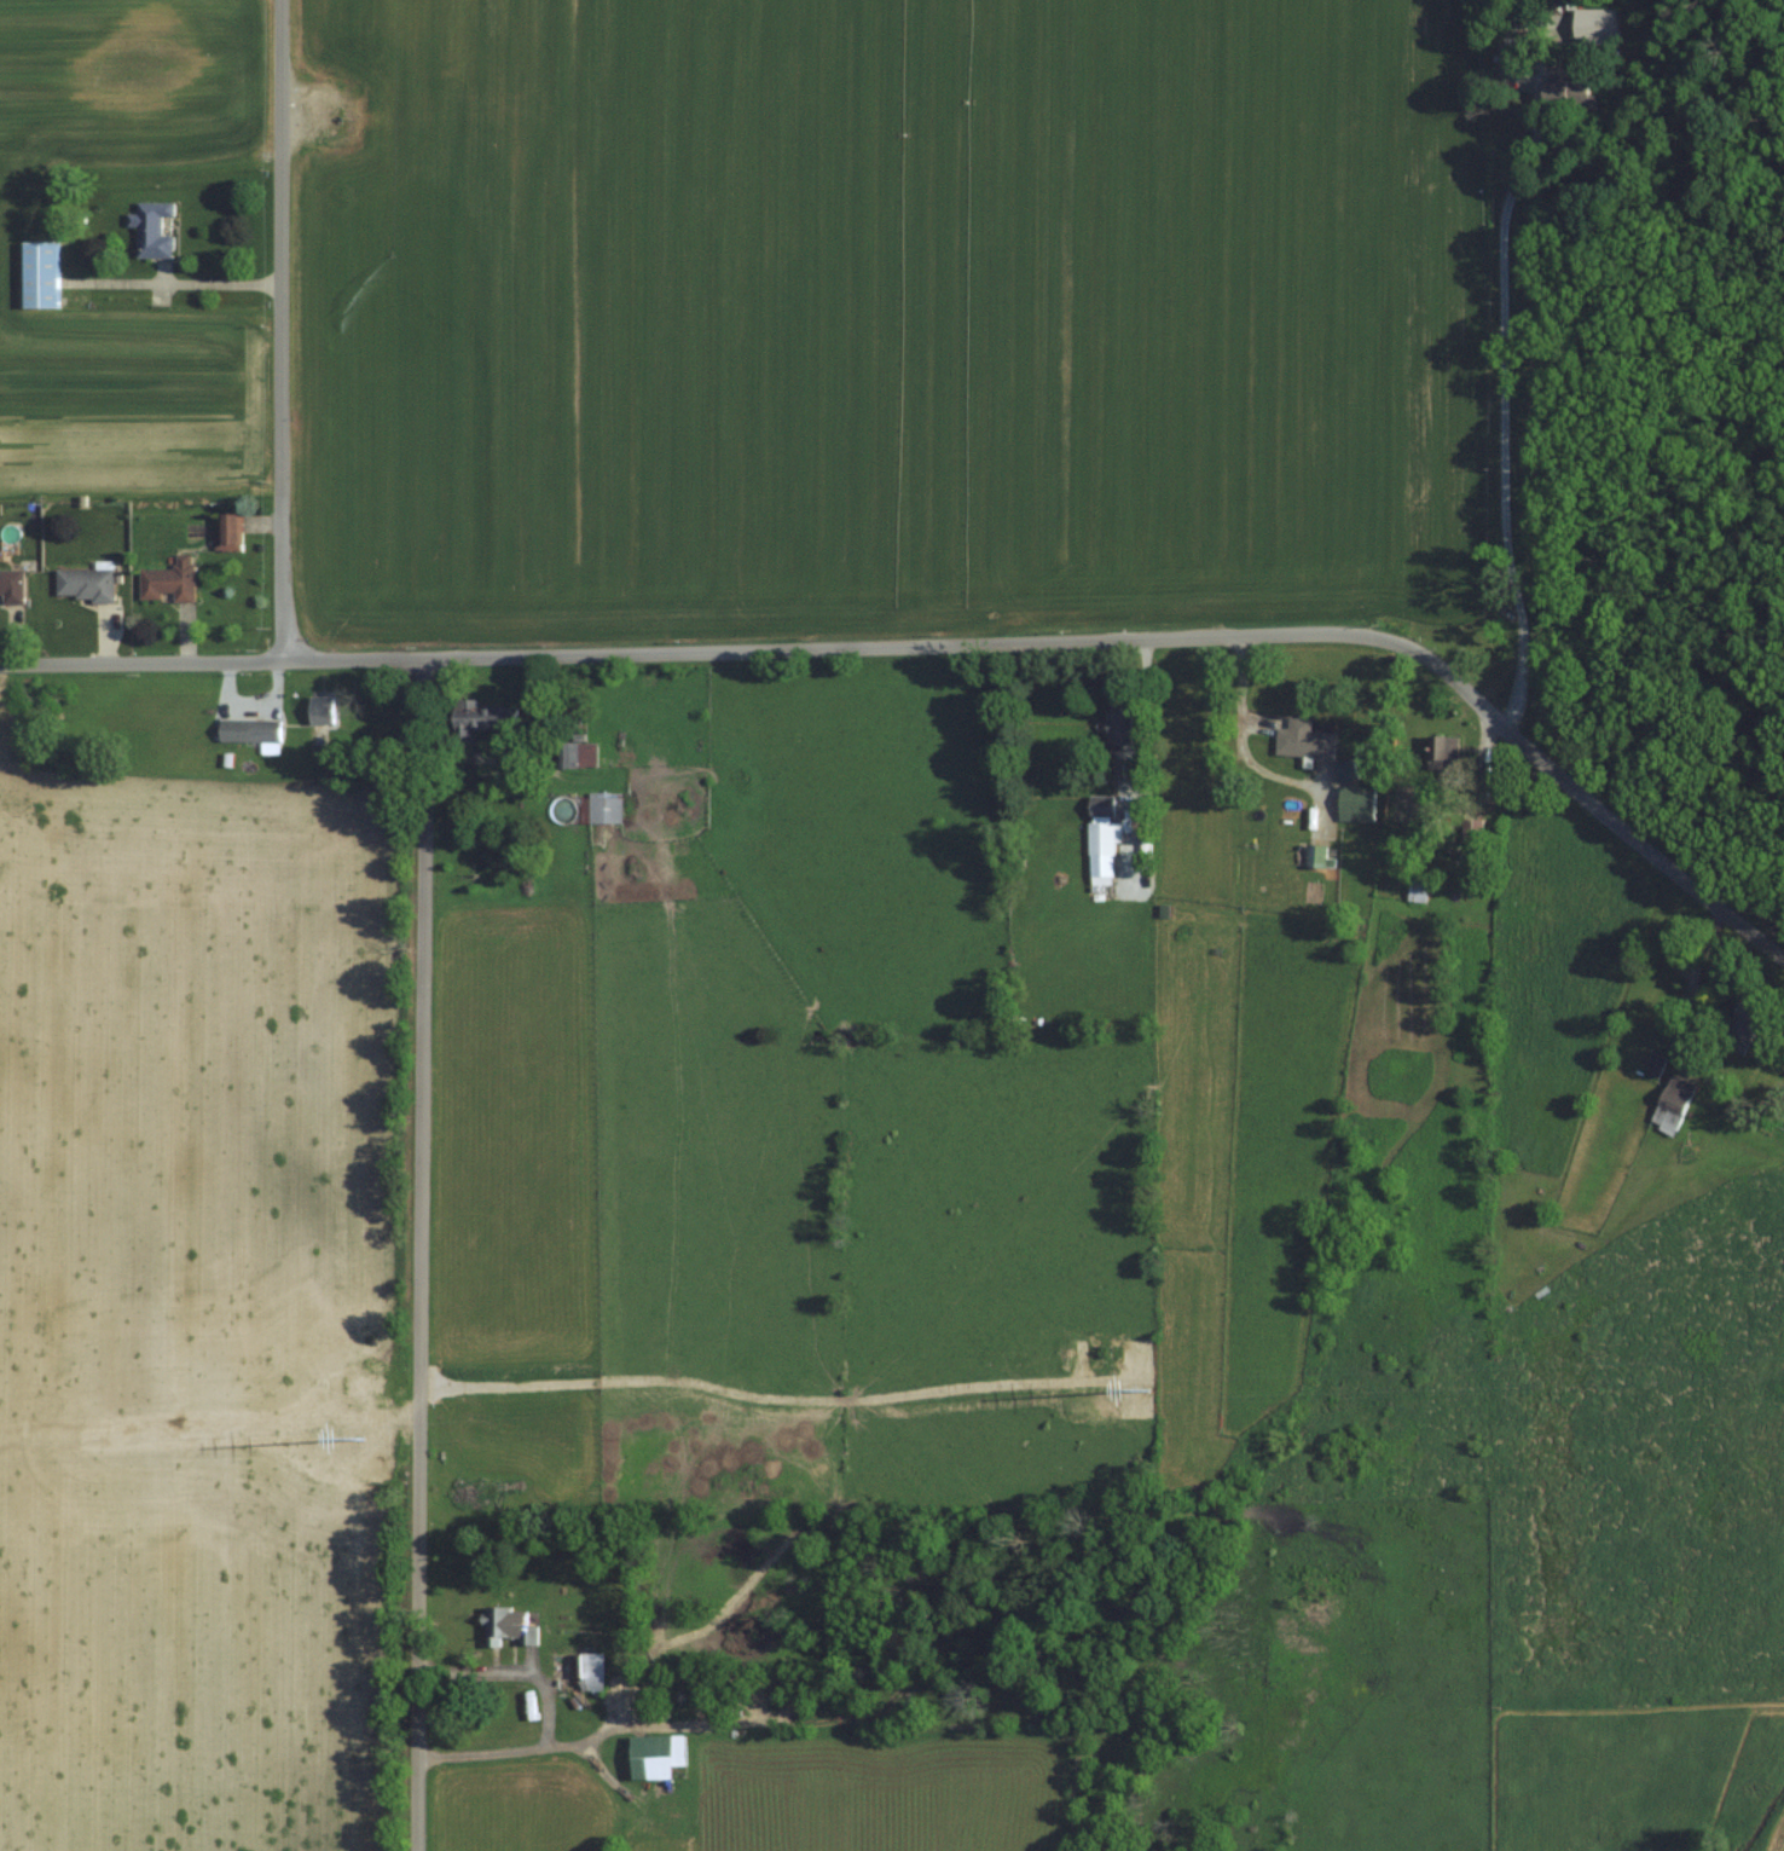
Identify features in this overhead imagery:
building: (1508, 48)
building: (1568, 93)
building: (151, 229)
building: (40, 274)
crop: (894, 318)
road: (280, 330)
road: (1502, 403)
building: (230, 532)
building: (168, 582)
building: (85, 584)
building: (11, 586)
road: (949, 647)
building: (322, 710)
building: (480, 718)
building: (1118, 724)
building: (249, 730)
building: (1304, 741)
building: (1443, 752)
building: (575, 754)
building: (1356, 800)
building: (1101, 806)
building: (603, 810)
building: (1471, 832)
building: (1100, 838)
building: (1317, 856)
building: (1418, 891)
building: (1742, 1020)
building: (1655, 1065)
building: (1672, 1104)
road: (421, 1255)
power tower: (1108, 1350)
power tower: (364, 1392)
building: (506, 1629)
building: (577, 1672)

